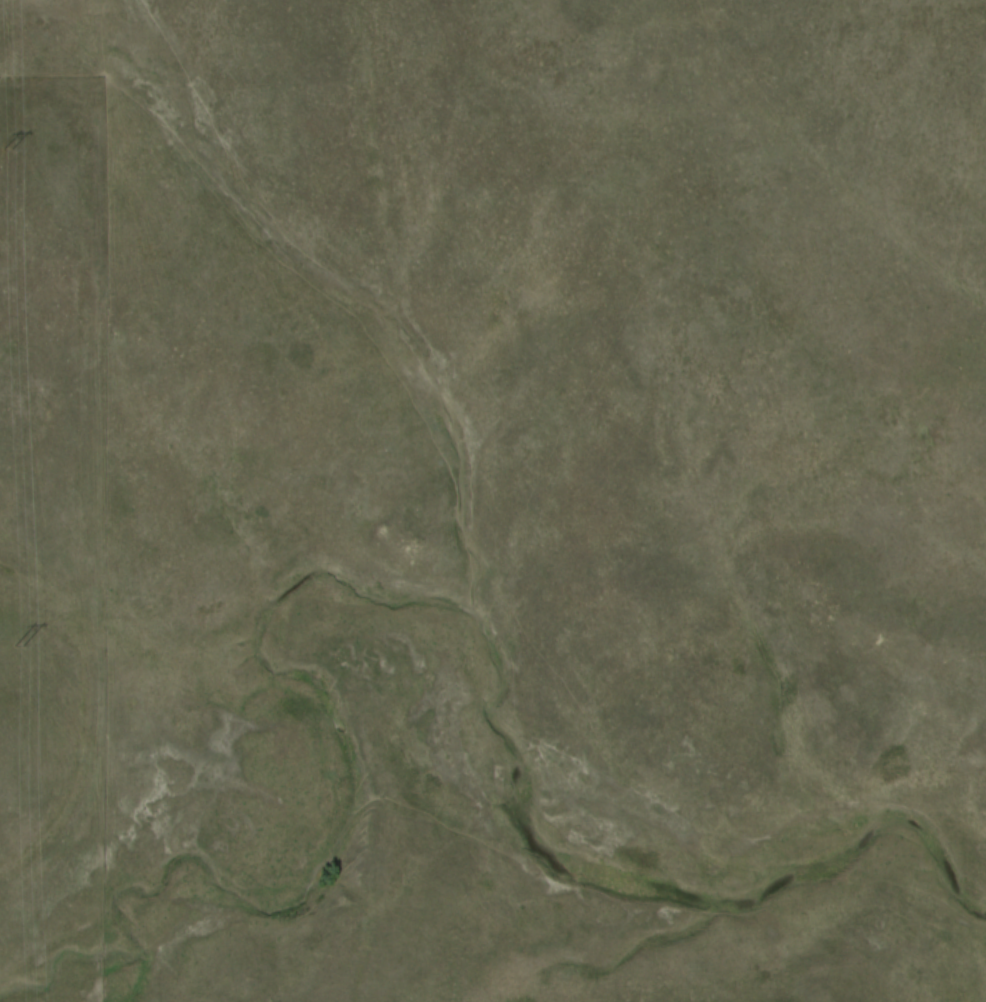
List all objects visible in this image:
power tower: (4, 150)
power tower: (16, 646)

